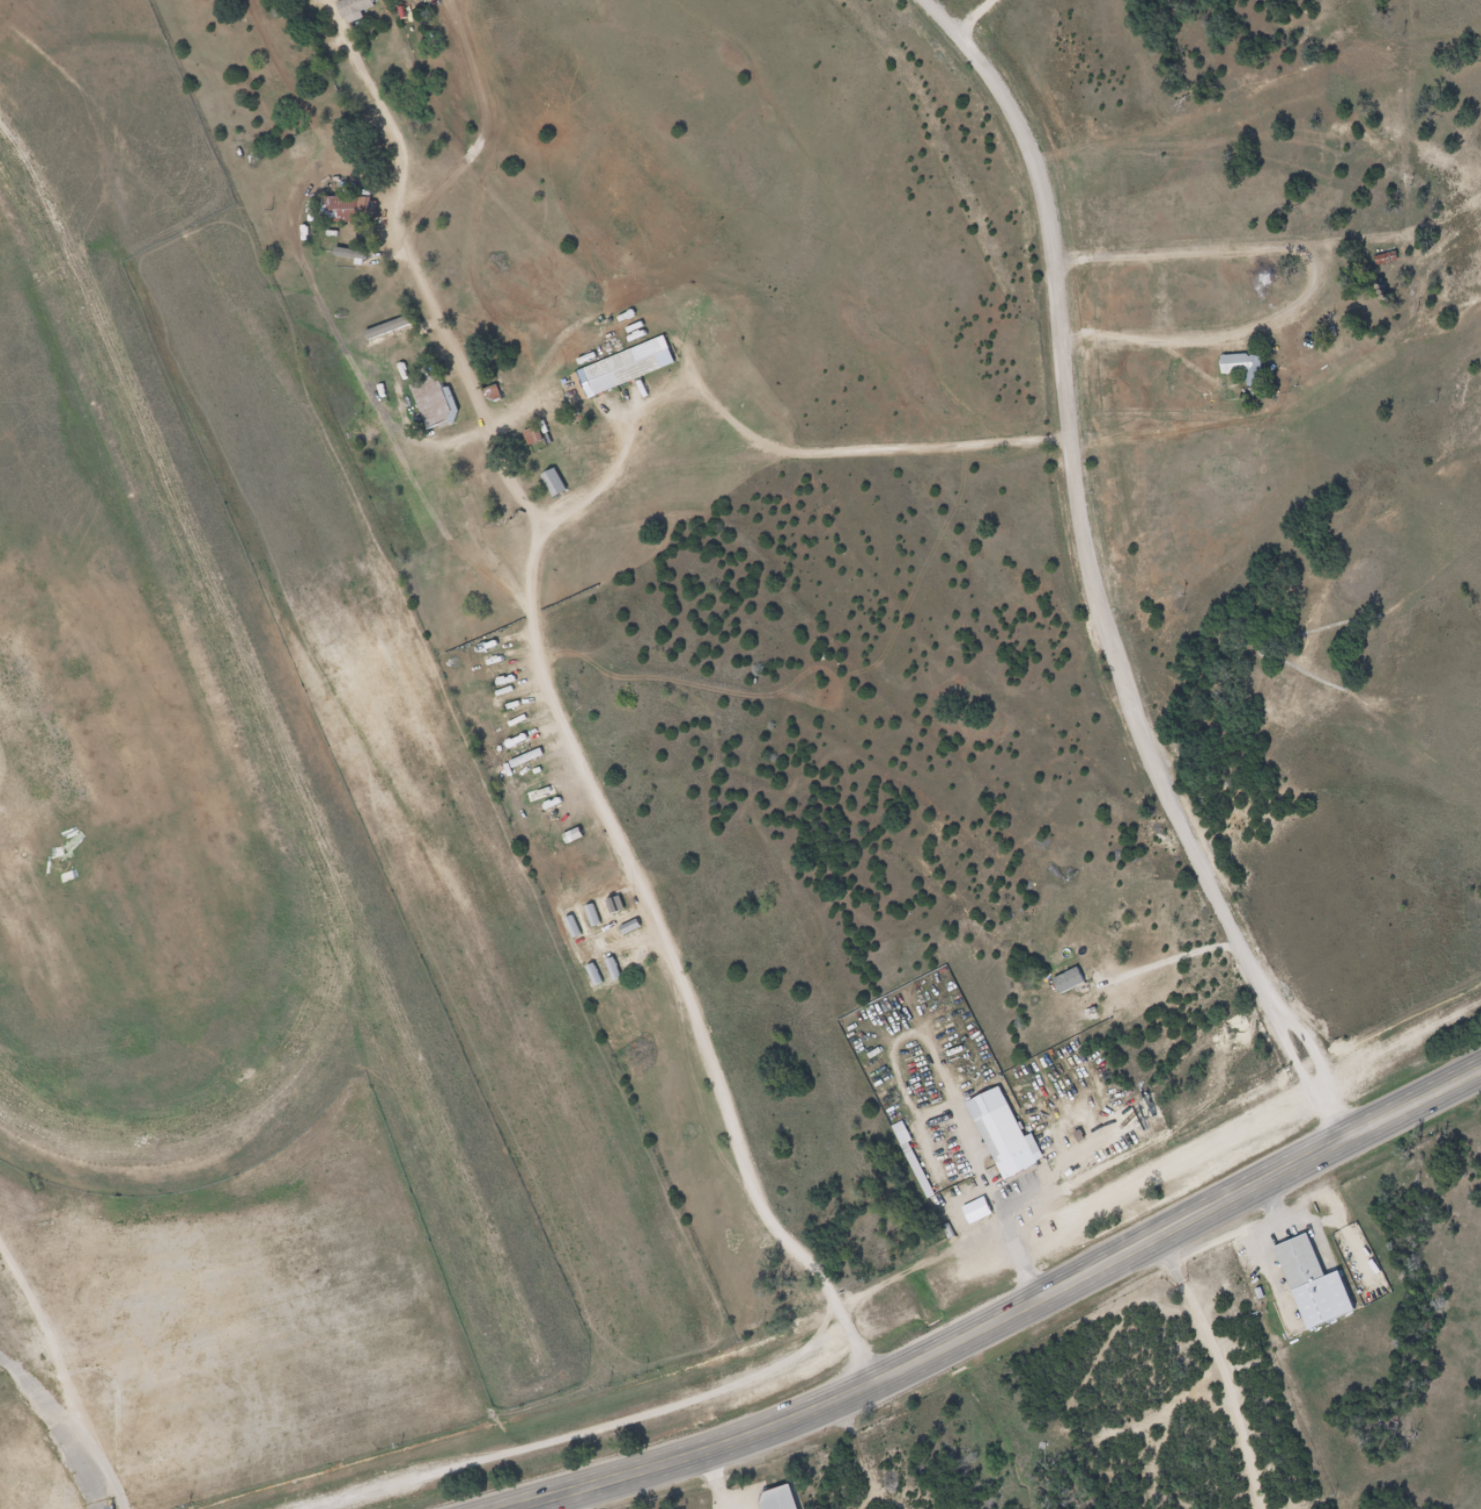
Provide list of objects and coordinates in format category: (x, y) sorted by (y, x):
road: (987, 19)
building: (622, 367)
building: (1247, 368)
building: (533, 485)
road: (1098, 578)
building: (499, 706)
track: (127, 770)
road: (675, 965)
building: (1072, 981)
building: (1158, 1113)
building: (1010, 1139)
building: (1321, 1292)
road: (1014, 1313)
road: (1230, 1366)
road: (23, 1385)
road: (50, 1415)
road: (872, 1450)
building: (786, 1502)

